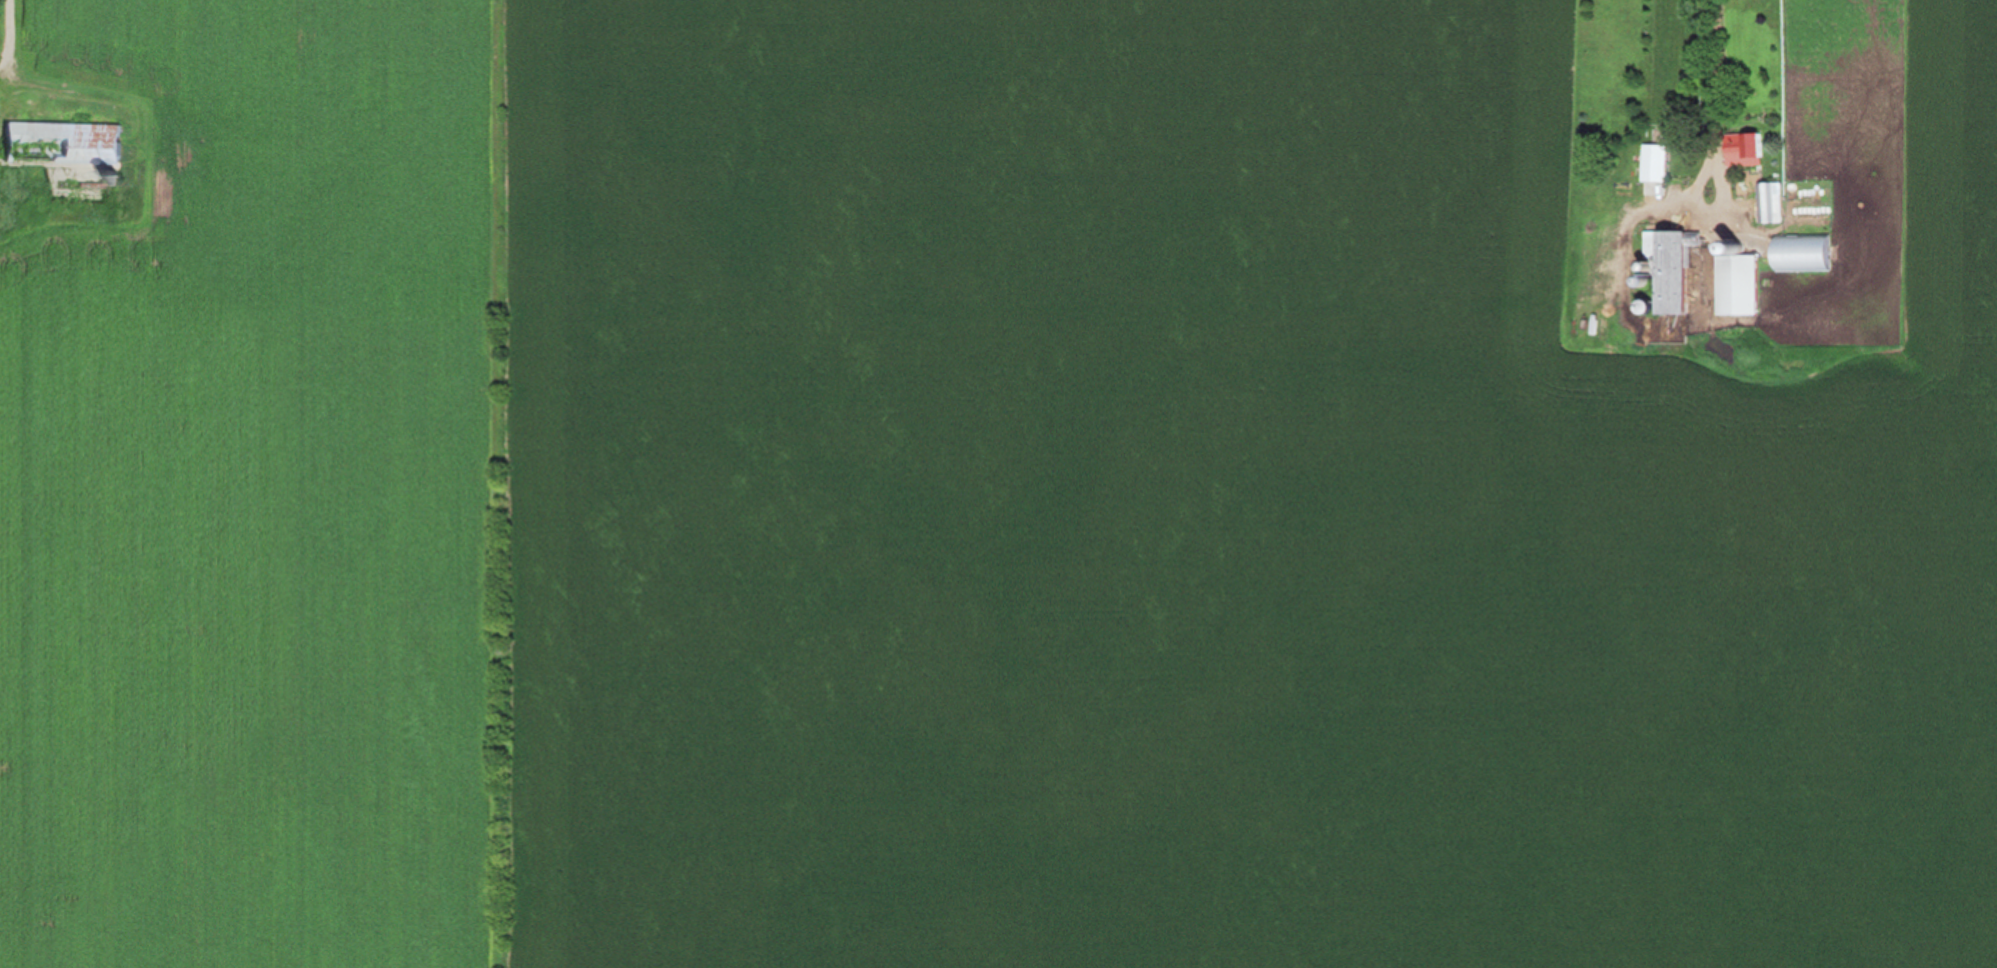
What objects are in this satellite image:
road: (9, 32)
building: (61, 142)
building: (1743, 148)
building: (1655, 162)
building: (1770, 202)
building: (1801, 252)
building: (1671, 267)
building: (1736, 284)

